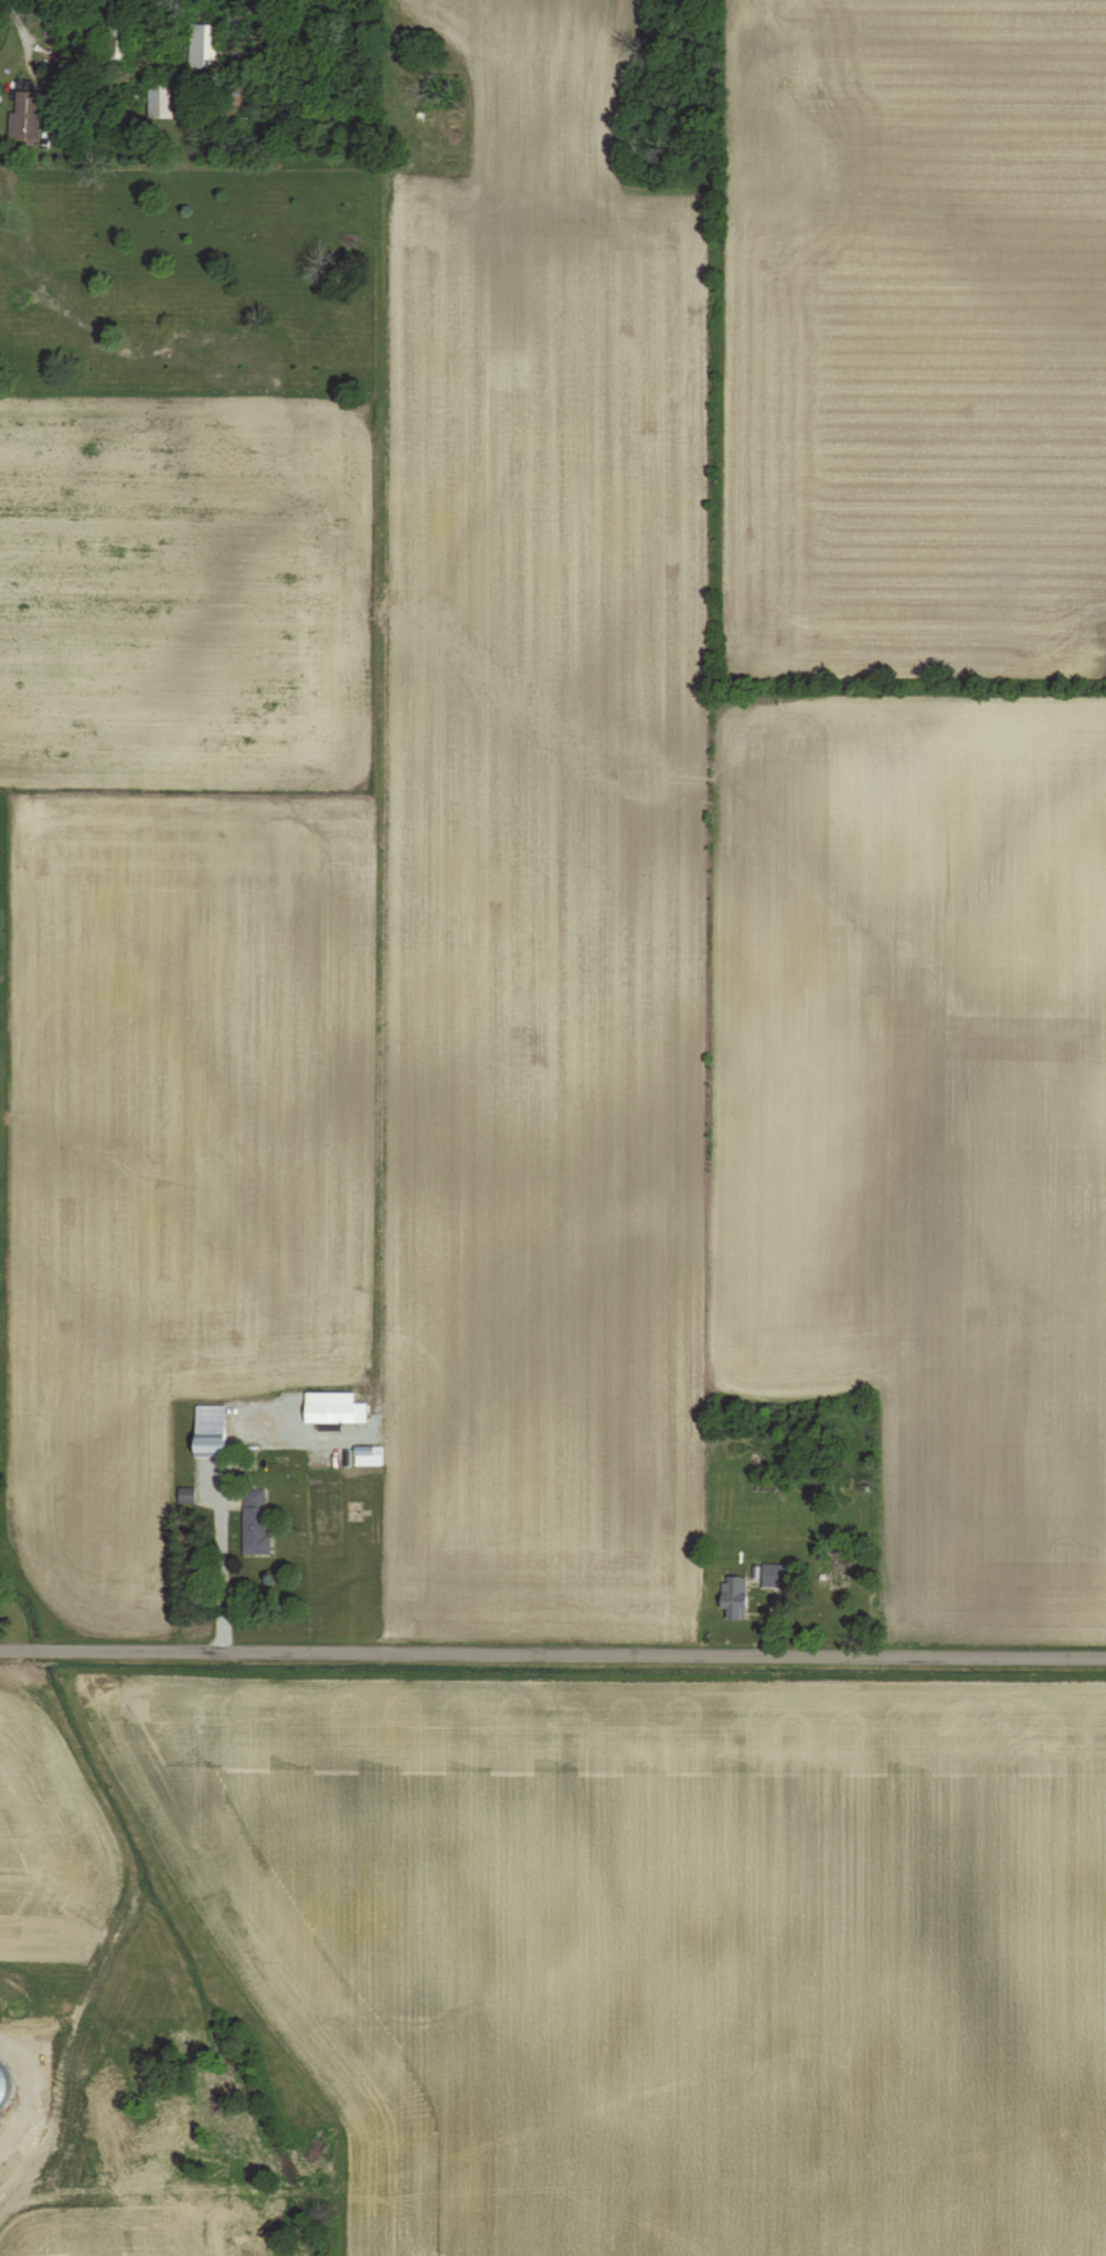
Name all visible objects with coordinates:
building: (116, 40)
building: (205, 45)
road: (35, 71)
building: (160, 98)
building: (238, 100)
building: (25, 115)
road: (376, 955)
building: (332, 1409)
building: (209, 1430)
building: (366, 1455)
road: (221, 1510)
building: (254, 1523)
building: (773, 1576)
building: (733, 1598)
road: (552, 1653)
building: (2, 2080)
silo: (3, 2082)
road: (31, 2090)

